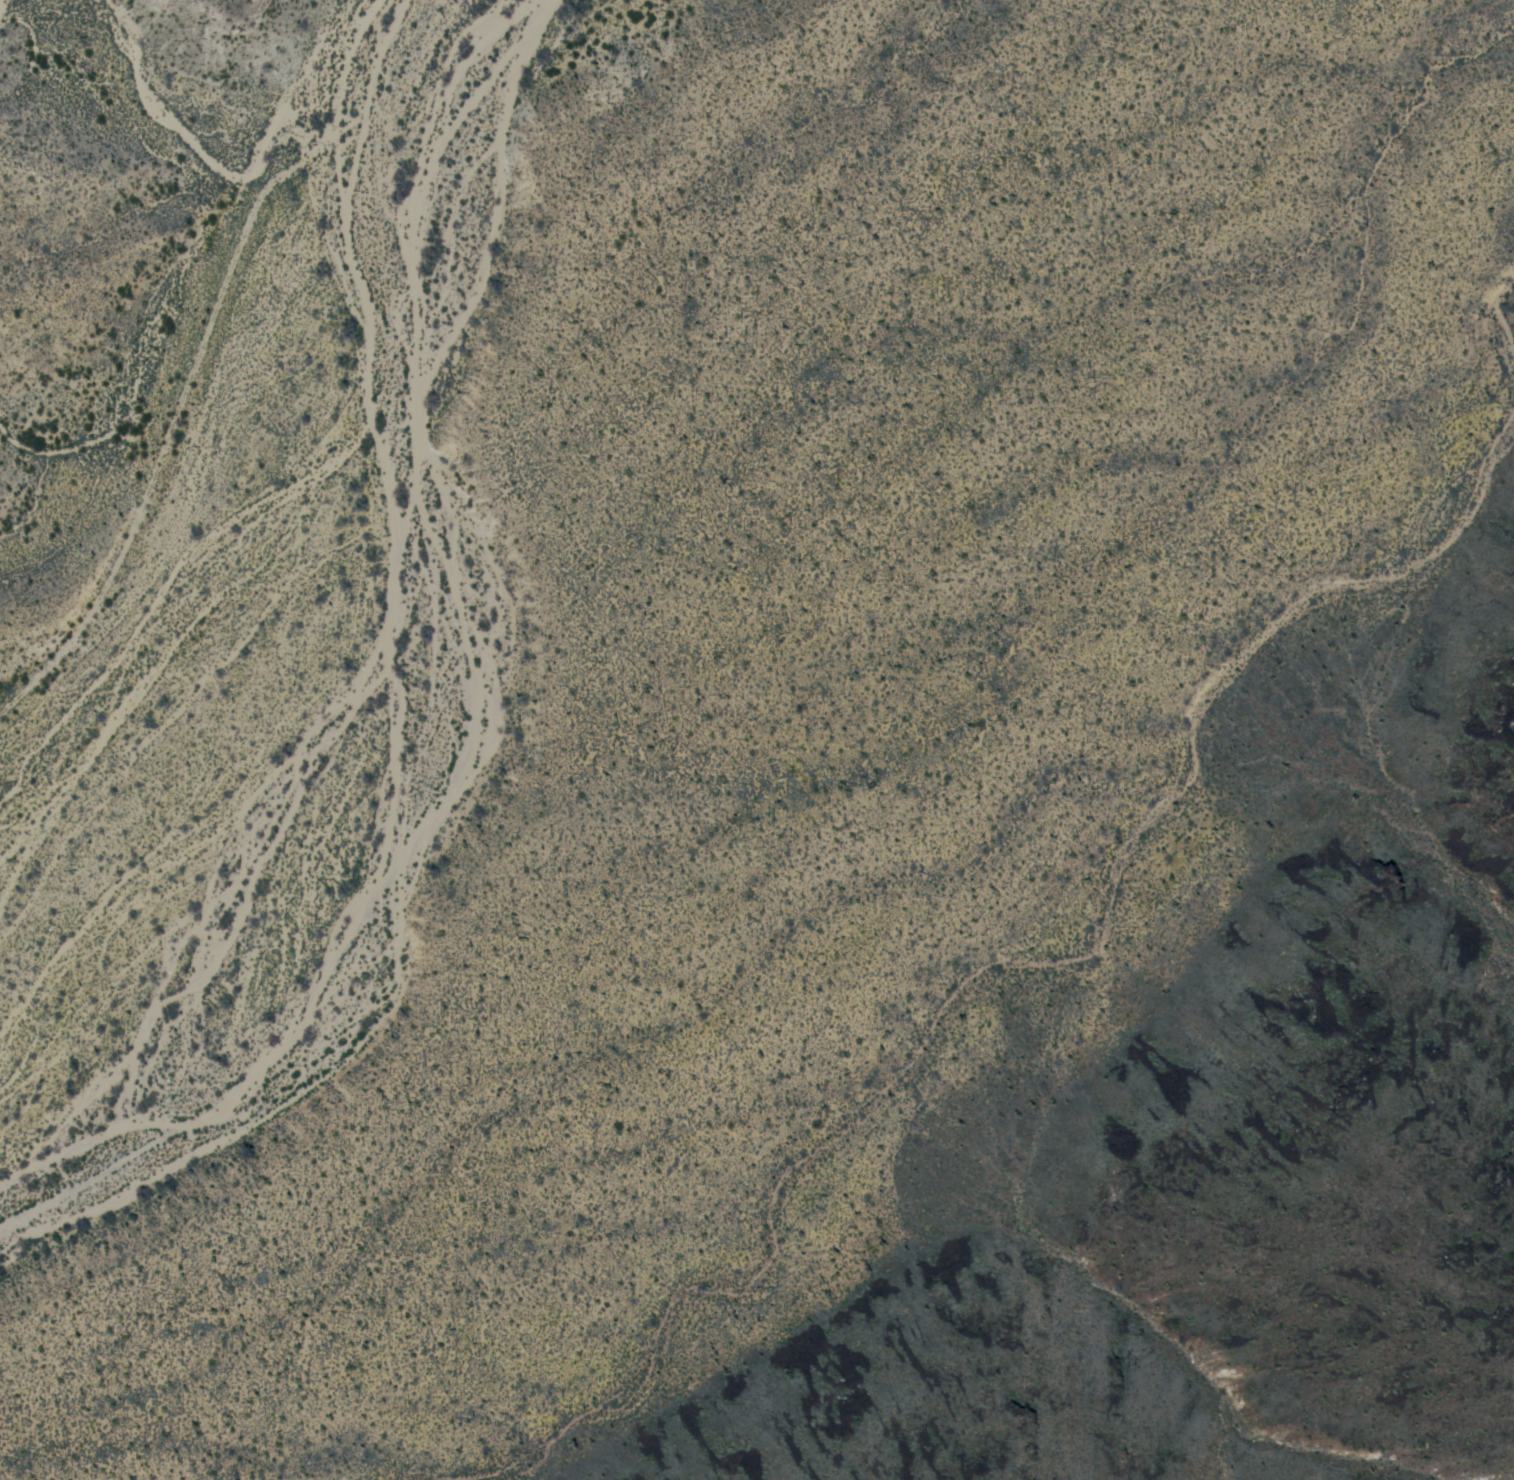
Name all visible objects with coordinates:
road: (184, 364)

